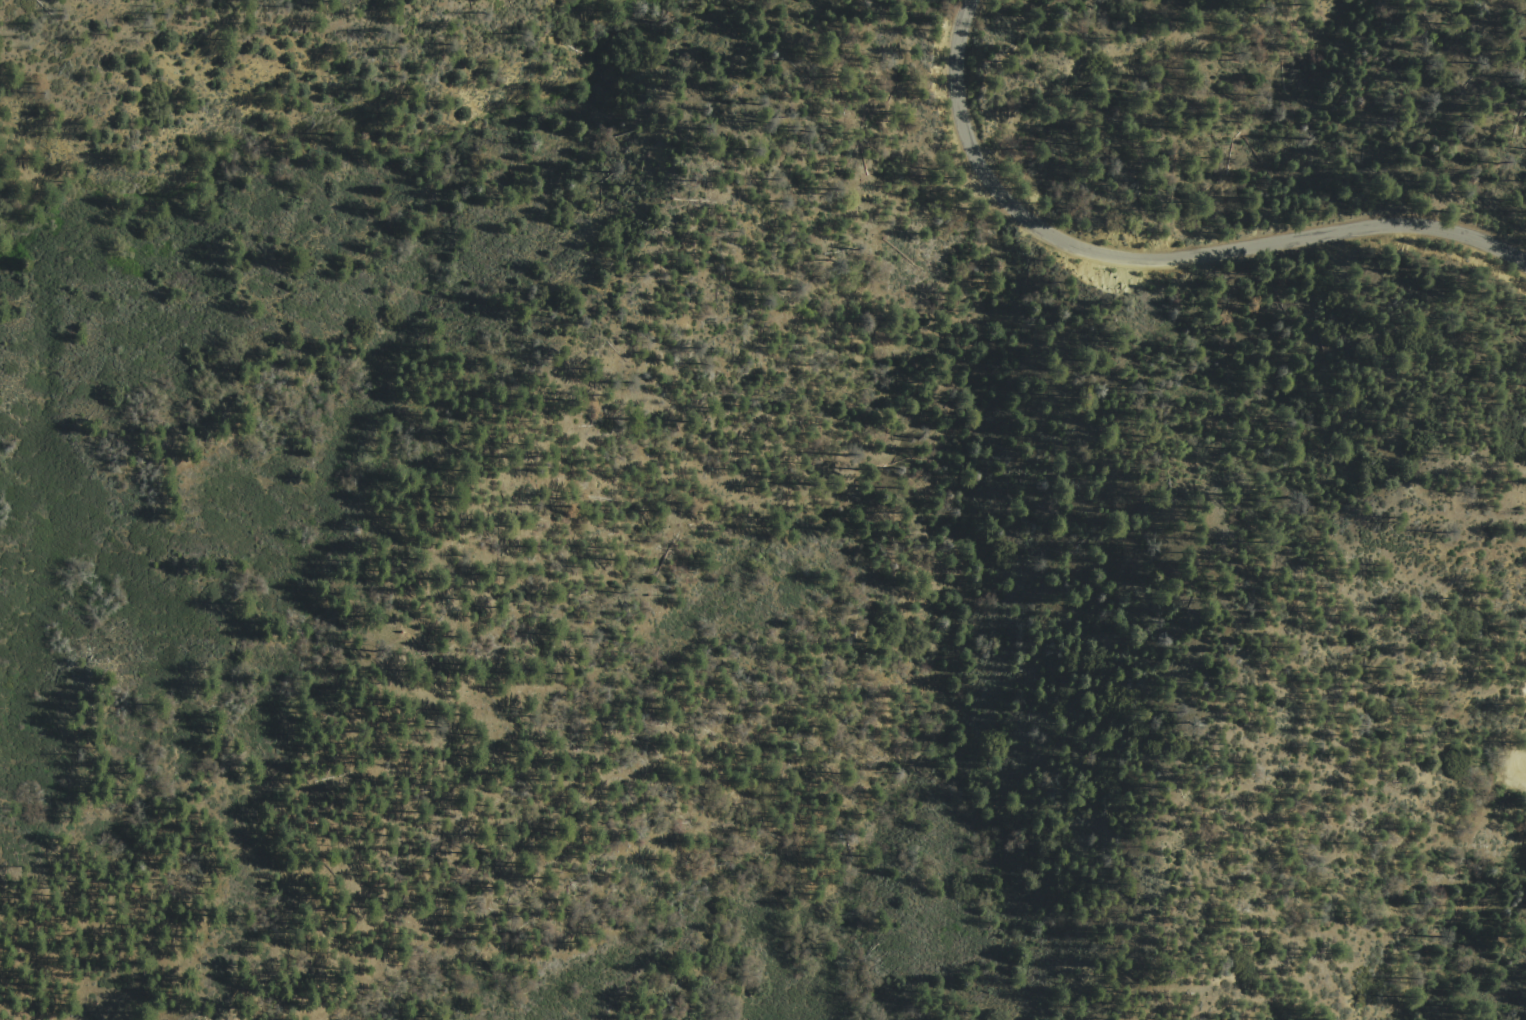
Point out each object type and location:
road: (1156, 258)

